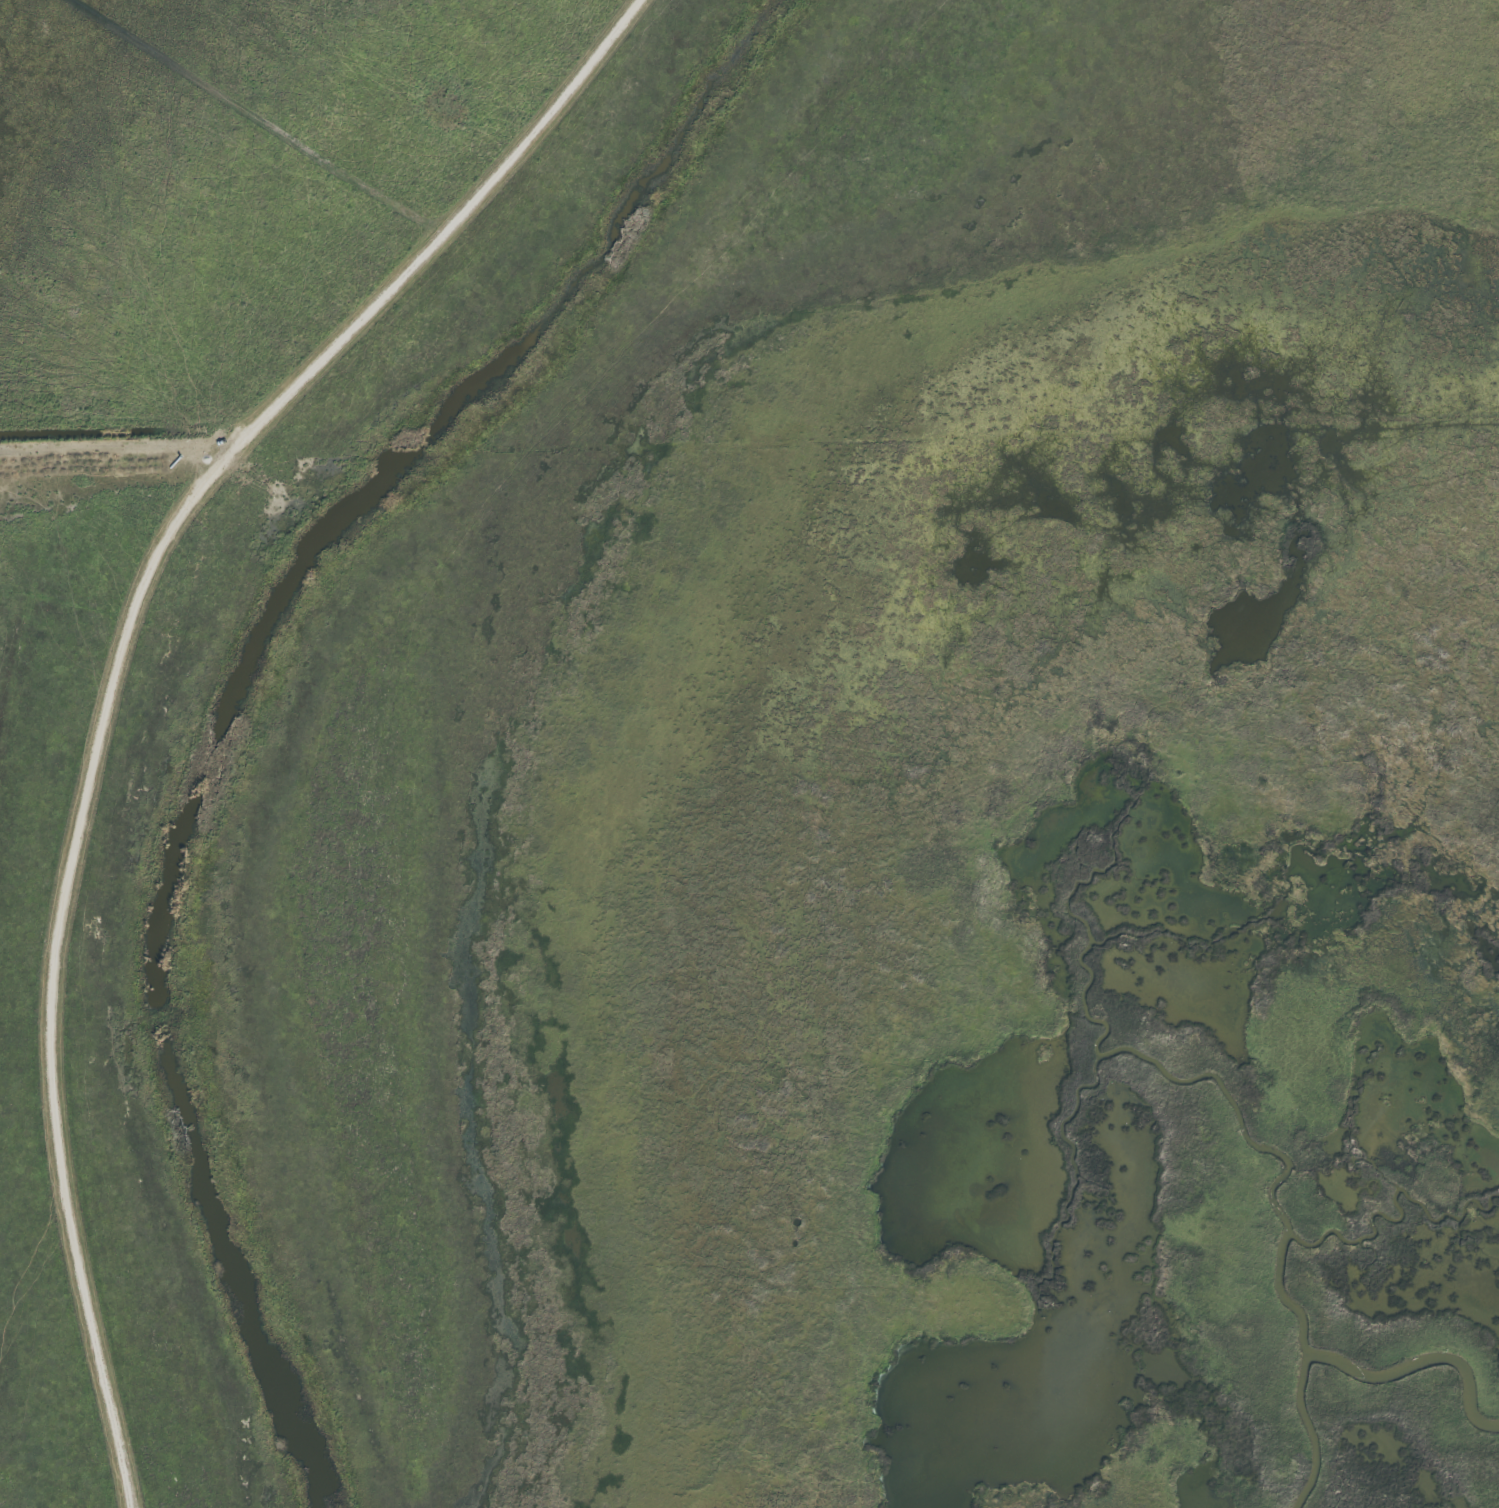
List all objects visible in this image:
road: (122, 448)
road: (123, 667)

